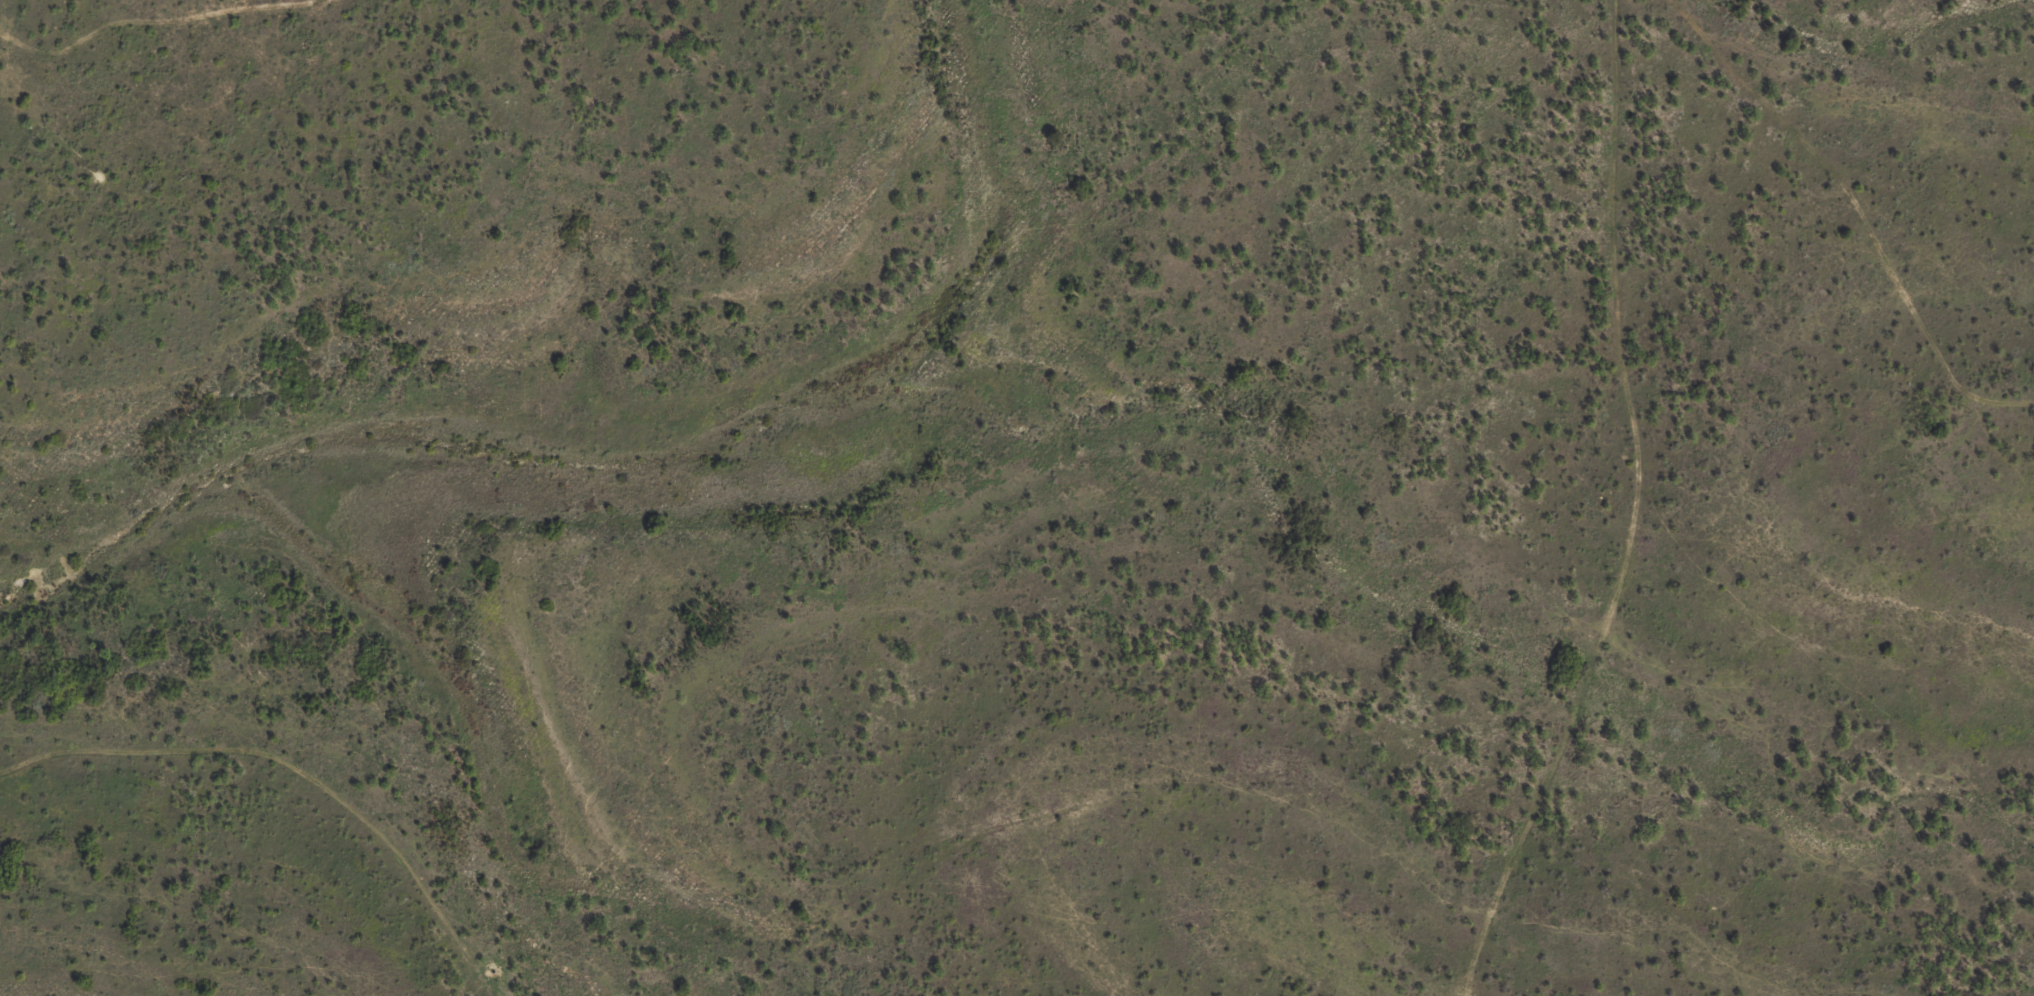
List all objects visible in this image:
road: (299, 776)

